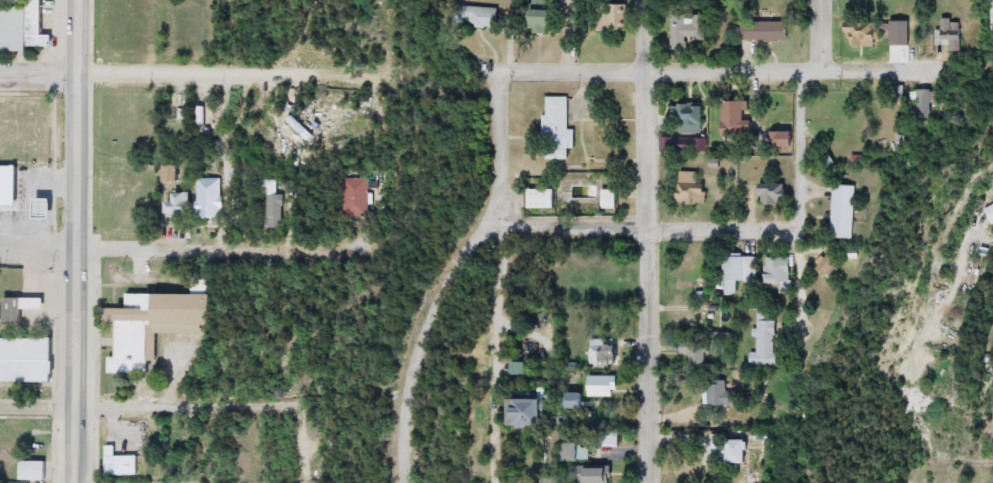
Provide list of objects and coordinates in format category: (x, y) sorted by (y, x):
building: (478, 17)
building: (612, 18)
building: (543, 21)
building: (25, 25)
building: (687, 30)
building: (758, 31)
building: (946, 34)
building: (858, 35)
road: (822, 36)
road: (229, 71)
road: (38, 72)
road: (715, 72)
building: (916, 105)
building: (689, 117)
building: (730, 118)
building: (558, 128)
building: (668, 138)
building: (773, 140)
building: (170, 173)
building: (9, 185)
building: (693, 188)
building: (768, 193)
building: (356, 197)
building: (211, 198)
building: (543, 198)
building: (611, 199)
road: (799, 199)
building: (273, 203)
building: (179, 205)
building: (47, 208)
building: (988, 210)
building: (837, 212)
road: (643, 231)
road: (476, 234)
road: (76, 241)
road: (645, 241)
road: (38, 248)
road: (218, 249)
building: (772, 269)
building: (737, 270)
building: (18, 309)
building: (152, 327)
building: (760, 340)
road: (494, 352)
building: (601, 352)
building: (694, 352)
building: (27, 360)
building: (602, 386)
road: (196, 394)
building: (721, 394)
road: (38, 401)
building: (575, 401)
building: (530, 413)
road: (402, 435)
building: (609, 439)
road: (305, 449)
building: (743, 452)
building: (575, 453)
road: (967, 457)
building: (123, 464)
building: (34, 471)
building: (598, 475)

